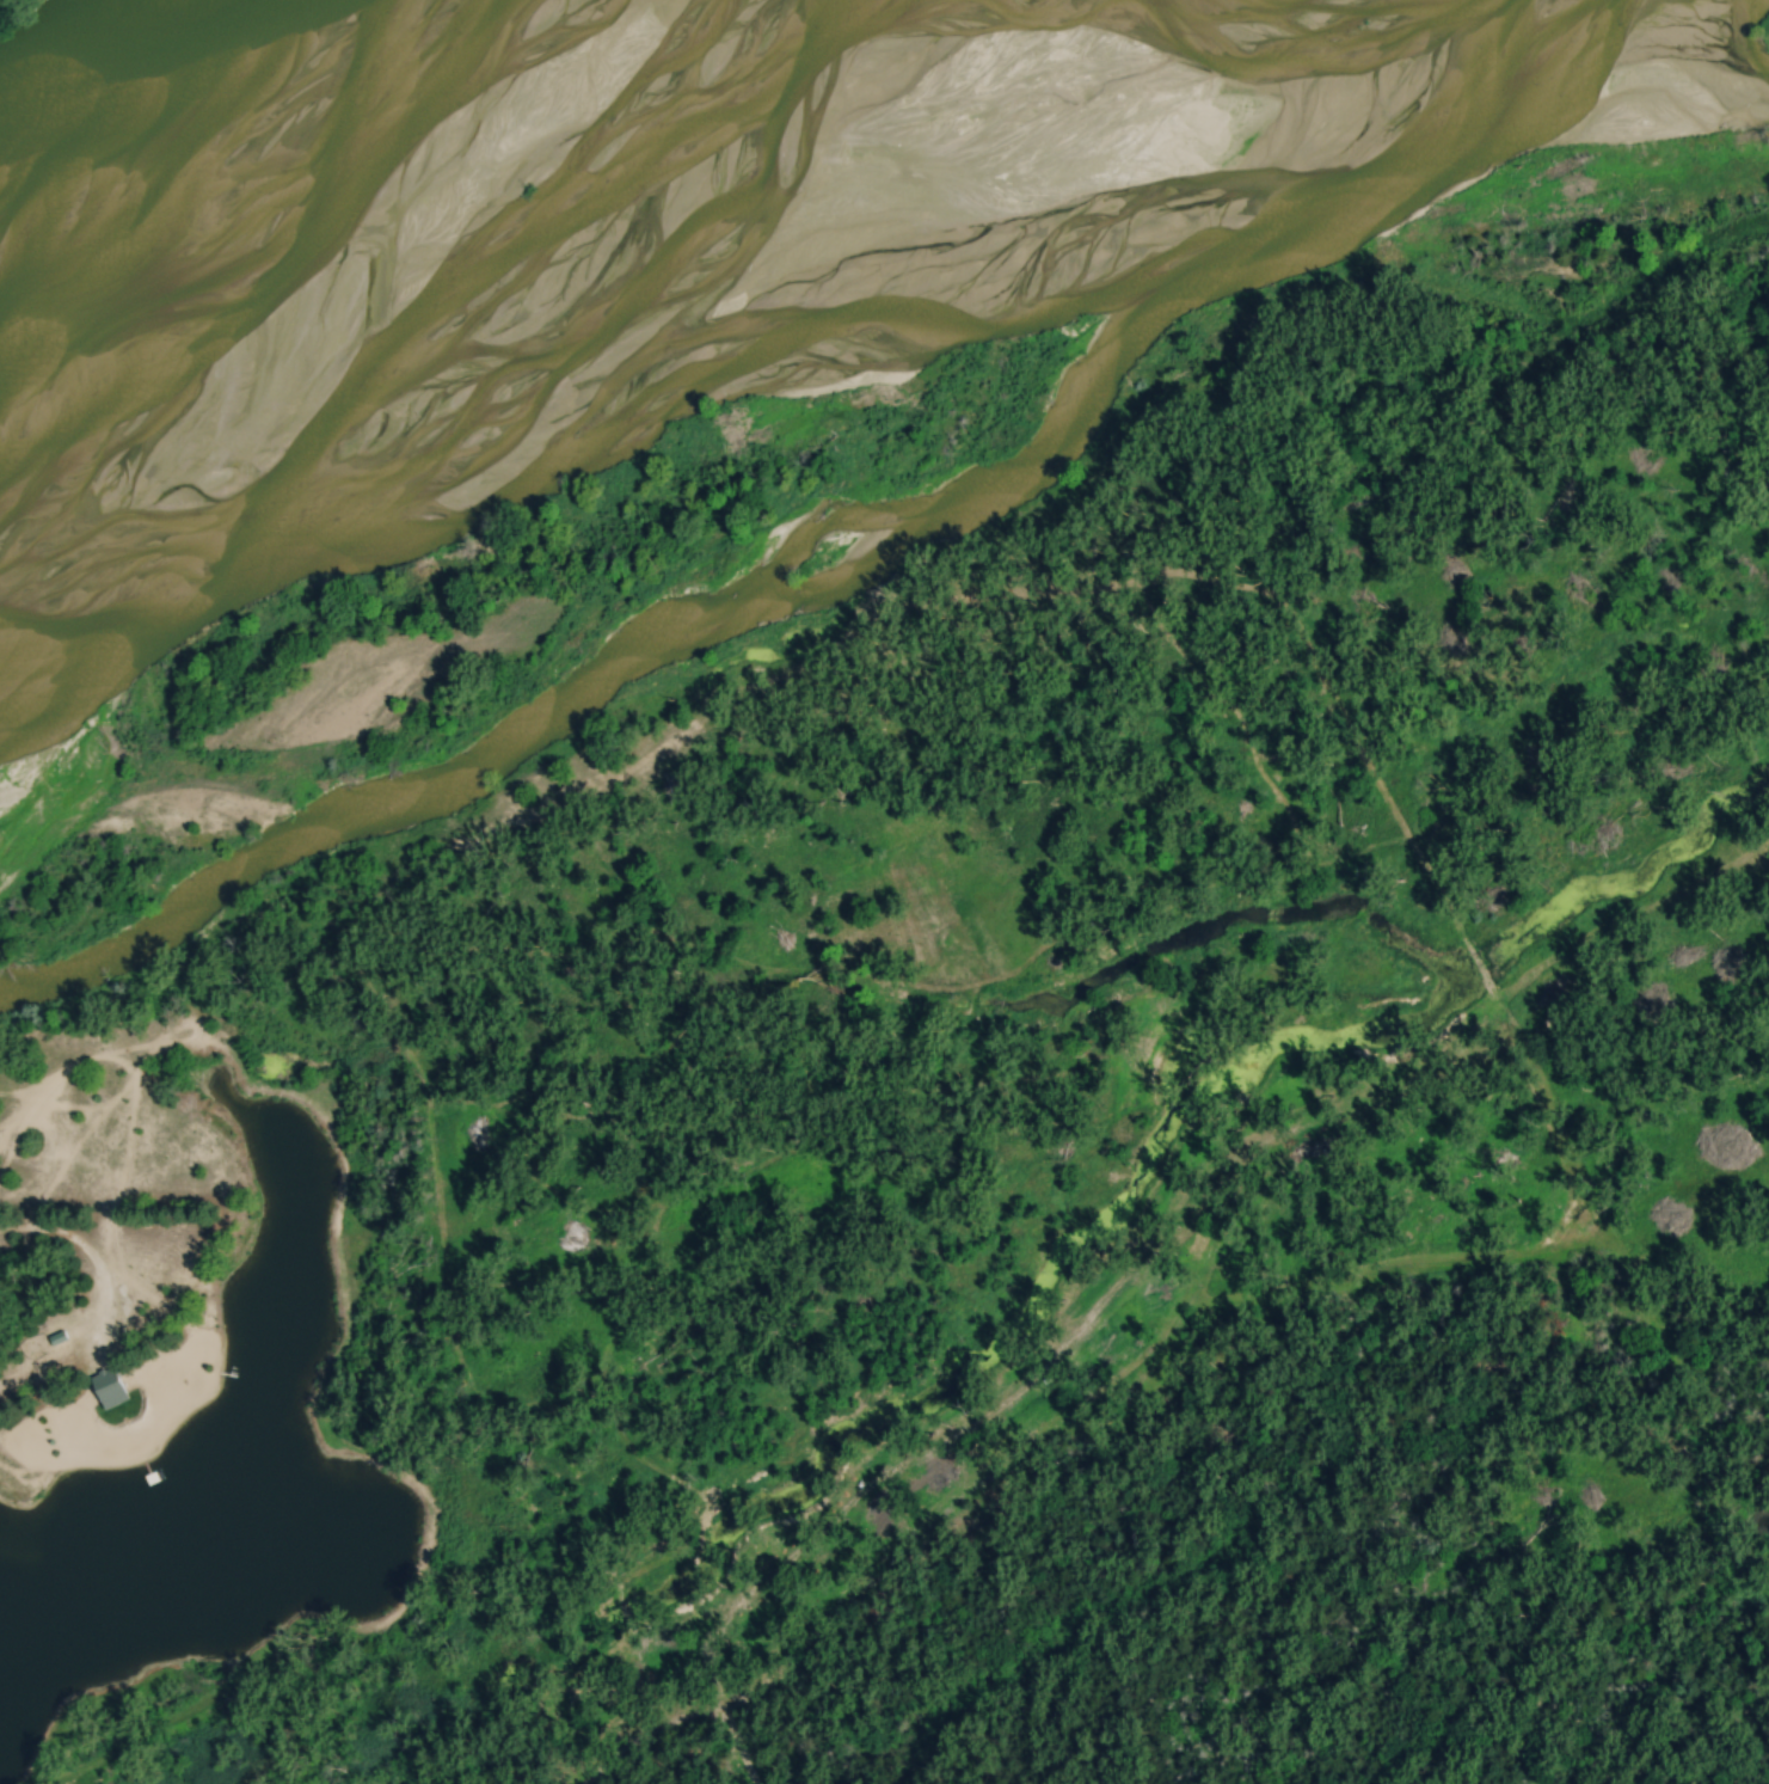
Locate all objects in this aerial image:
river: (182, 136)
road: (87, 1255)
building: (112, 1391)

